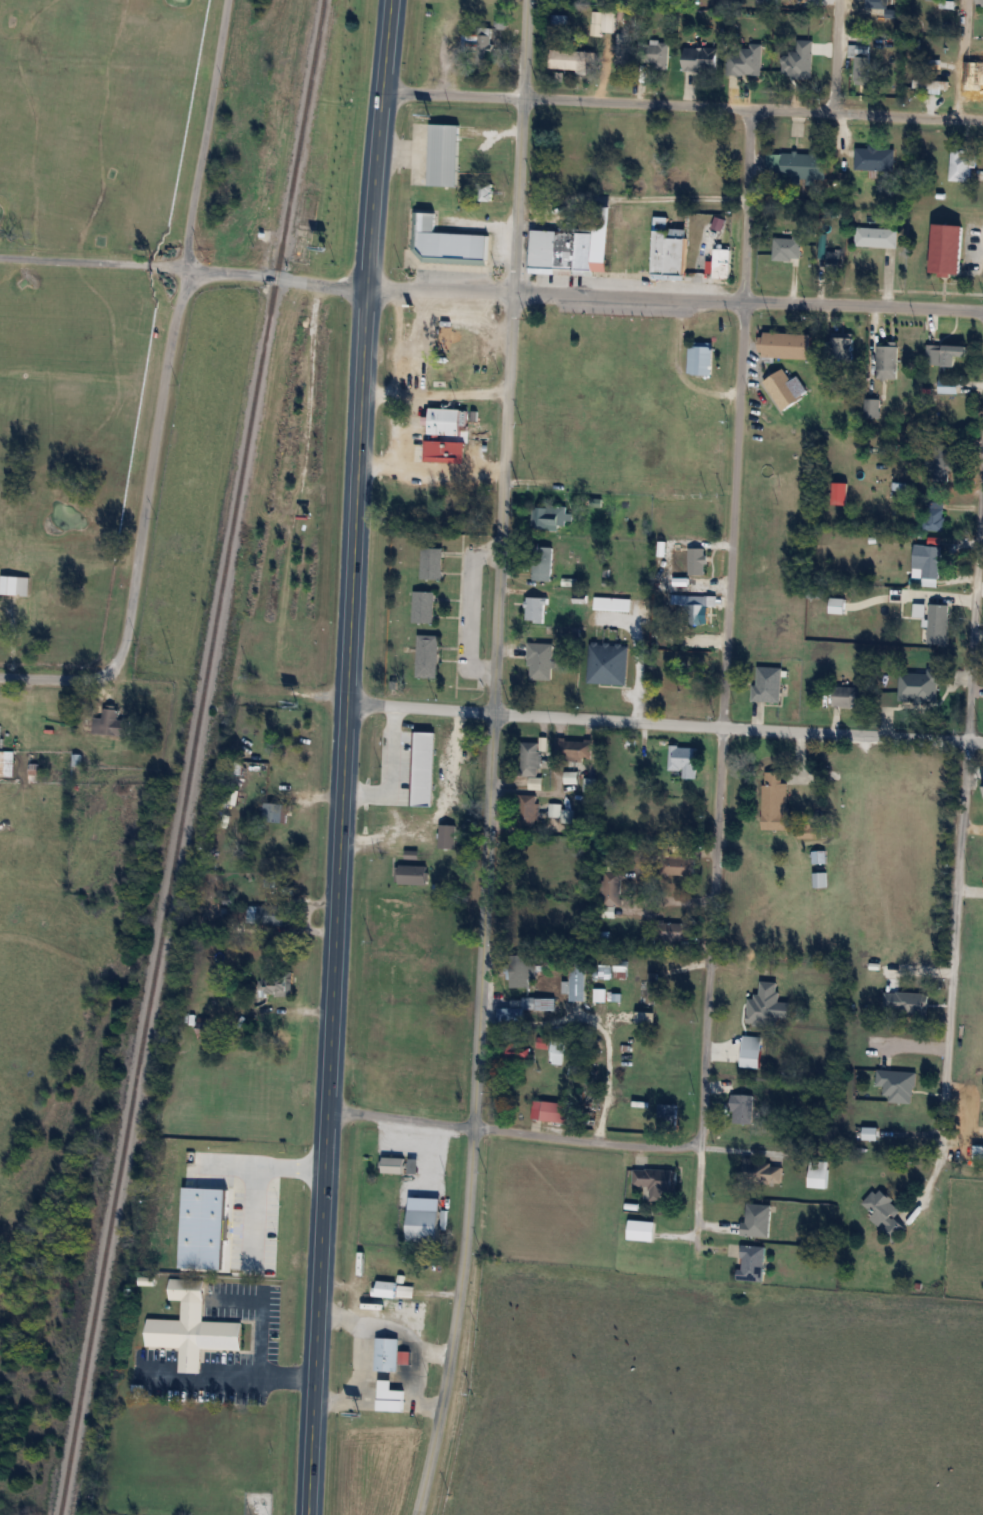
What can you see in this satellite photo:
building: (933, 0)
building: (980, 4)
building: (893, 16)
building: (607, 21)
building: (477, 44)
building: (656, 56)
road: (835, 56)
road: (964, 59)
building: (569, 60)
building: (700, 60)
building: (860, 64)
building: (976, 72)
building: (757, 75)
building: (931, 86)
road: (682, 106)
road: (377, 144)
building: (443, 155)
building: (874, 159)
building: (962, 164)
building: (796, 168)
building: (485, 192)
building: (876, 237)
building: (446, 243)
building: (575, 245)
building: (786, 248)
building: (947, 250)
building: (669, 251)
building: (833, 260)
road: (91, 262)
building: (721, 262)
road: (581, 292)
road: (169, 340)
building: (453, 344)
building: (785, 344)
road: (387, 346)
building: (945, 353)
building: (840, 356)
building: (700, 357)
building: (887, 361)
building: (948, 385)
road: (384, 386)
building: (785, 388)
road: (458, 389)
road: (406, 396)
building: (872, 408)
road: (736, 417)
building: (445, 420)
building: (942, 462)
road: (449, 473)
building: (935, 516)
building: (550, 517)
building: (928, 560)
building: (697, 561)
building: (431, 563)
building: (541, 563)
building: (14, 585)
road: (975, 591)
building: (612, 603)
road: (465, 605)
building: (837, 605)
building: (423, 607)
building: (535, 609)
building: (697, 613)
building: (2, 618)
building: (938, 623)
building: (427, 656)
building: (541, 661)
building: (607, 664)
road: (52, 679)
building: (767, 684)
building: (696, 691)
building: (850, 696)
road: (662, 720)
building: (109, 723)
building: (575, 747)
railway: (186, 757)
building: (530, 758)
road: (485, 759)
building: (685, 760)
building: (6, 763)
building: (294, 763)
building: (588, 784)
building: (775, 802)
building: (553, 810)
building: (527, 811)
building: (275, 812)
building: (567, 816)
building: (446, 836)
building: (679, 866)
building: (411, 875)
building: (819, 879)
building: (611, 888)
road: (665, 901)
road: (332, 902)
building: (269, 915)
building: (674, 932)
road: (707, 933)
road: (952, 952)
building: (620, 966)
building: (603, 971)
building: (522, 973)
building: (577, 981)
building: (275, 985)
building: (652, 987)
building: (524, 1007)
building: (202, 1027)
building: (745, 1033)
building: (515, 1051)
building: (555, 1052)
building: (897, 1085)
building: (417, 1091)
building: (742, 1108)
building: (550, 1110)
building: (667, 1115)
road: (507, 1127)
building: (978, 1152)
building: (393, 1164)
road: (260, 1165)
building: (413, 1165)
building: (761, 1171)
building: (817, 1174)
building: (655, 1182)
road: (695, 1193)
building: (883, 1212)
road: (255, 1216)
building: (757, 1219)
building: (424, 1225)
building: (641, 1230)
building: (751, 1262)
building: (384, 1289)
road: (261, 1307)
building: (413, 1313)
building: (187, 1321)
parking lot: (216, 1346)
building: (387, 1354)
road: (361, 1358)
road: (284, 1371)
road: (194, 1379)
road: (419, 1379)
parking lot: (137, 1512)

